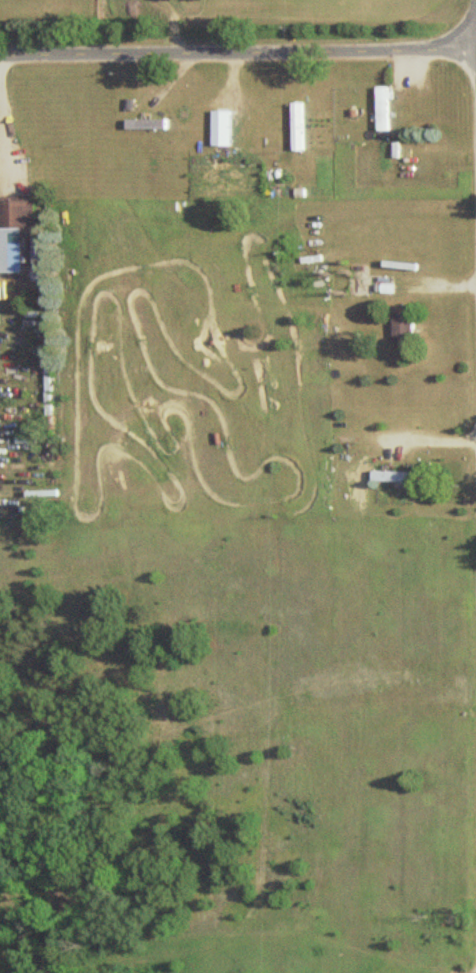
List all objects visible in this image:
road: (238, 54)
building: (387, 109)
building: (301, 127)
road: (2, 130)
building: (228, 132)
building: (20, 214)
building: (408, 327)
road: (423, 443)
building: (398, 477)
road: (475, 908)

